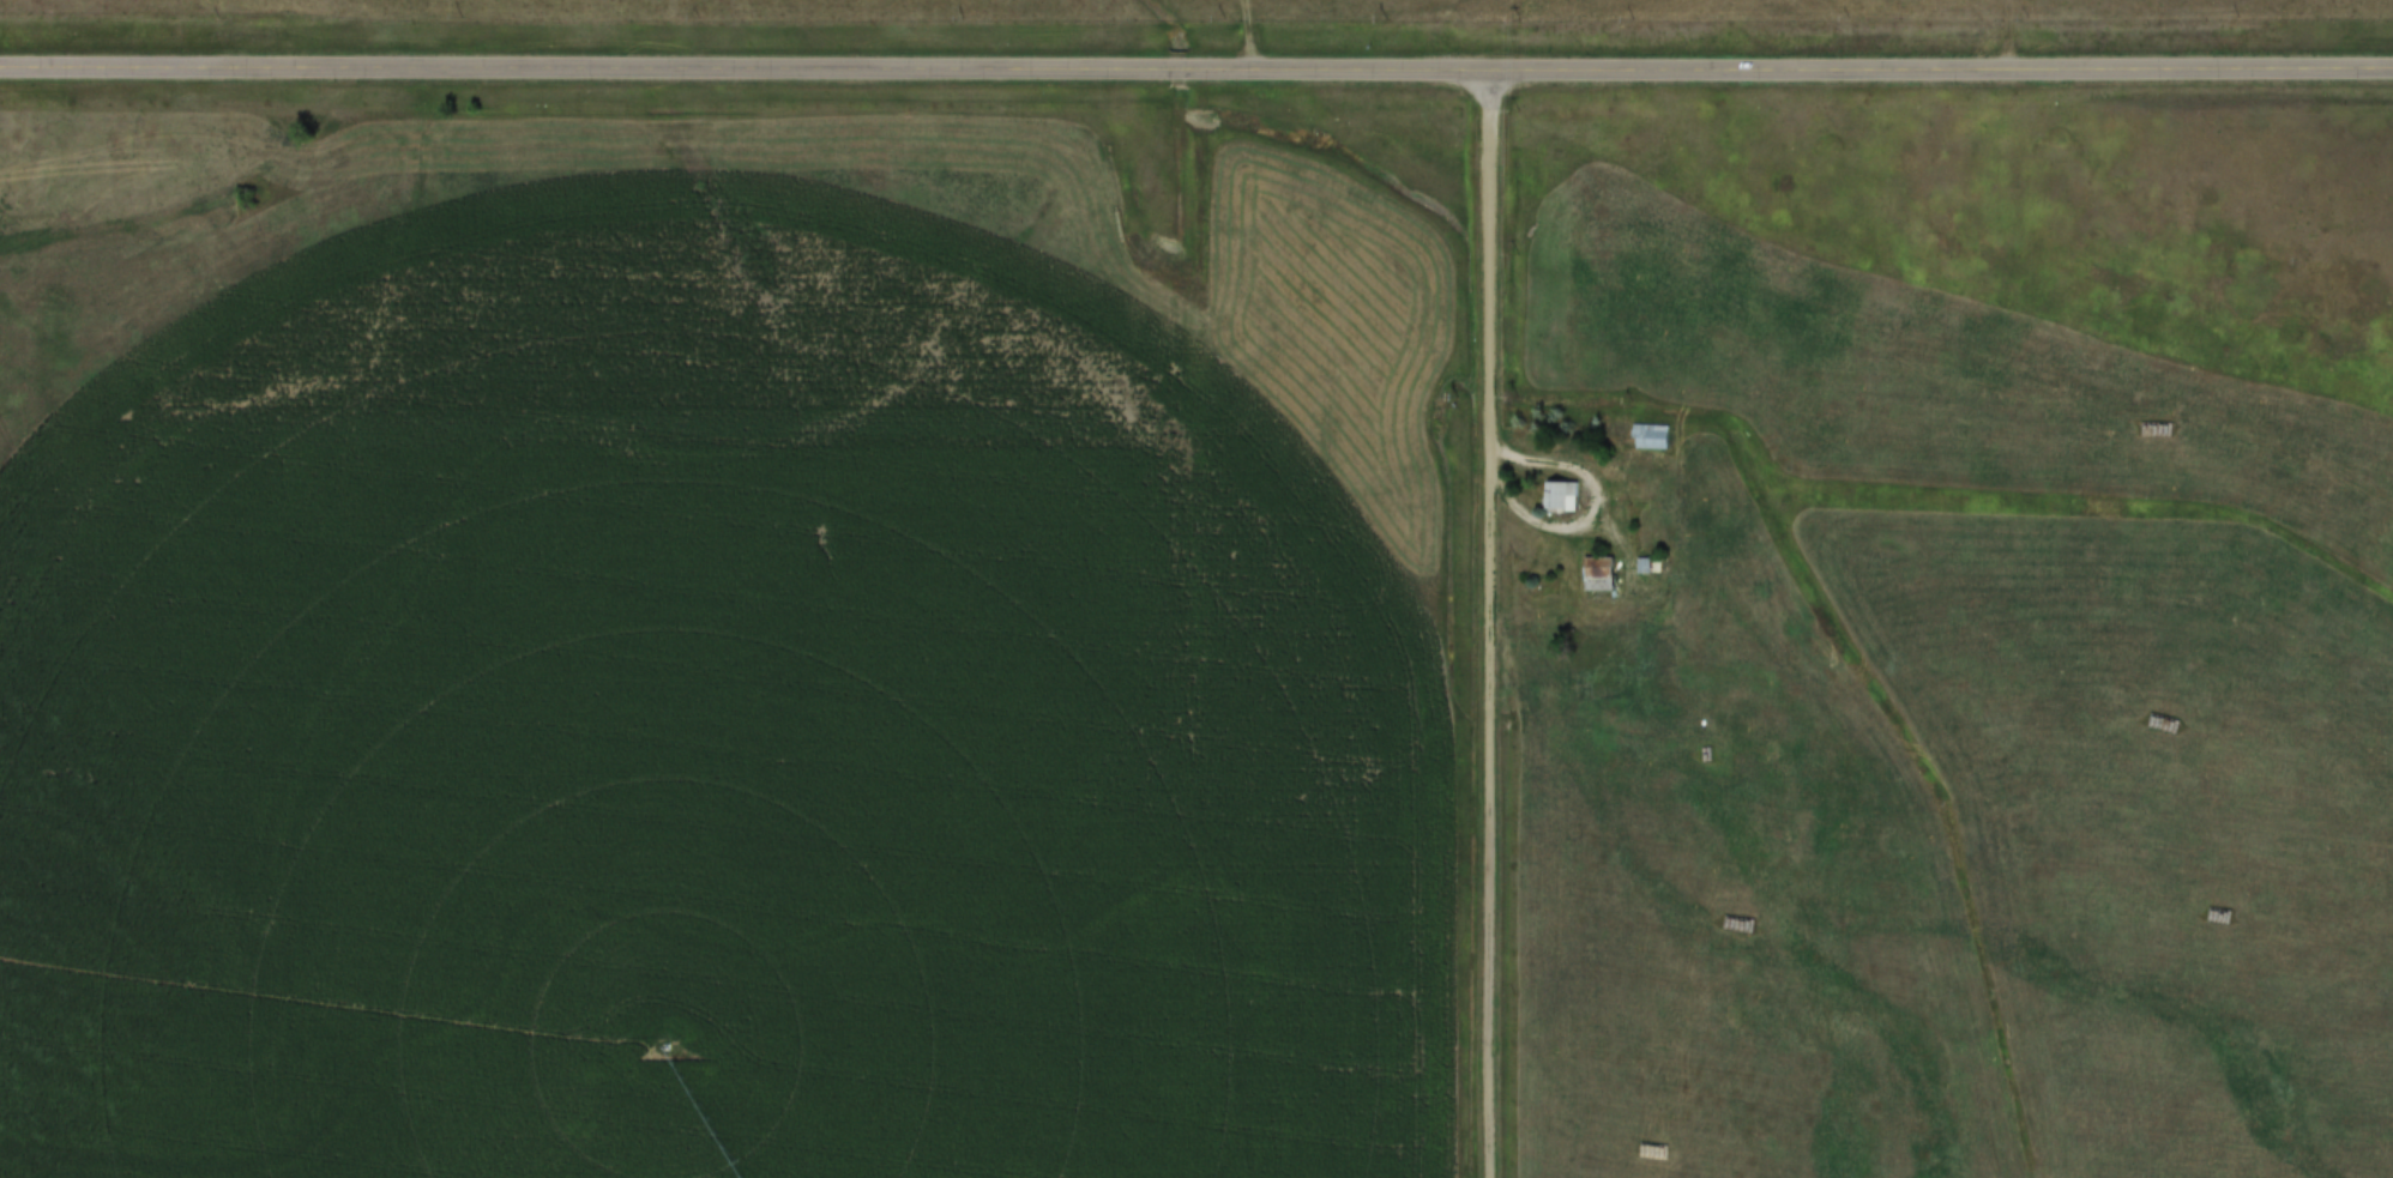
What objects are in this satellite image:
road: (1195, 62)
building: (1641, 429)
building: (1560, 494)
building: (1598, 580)
road: (1478, 620)

